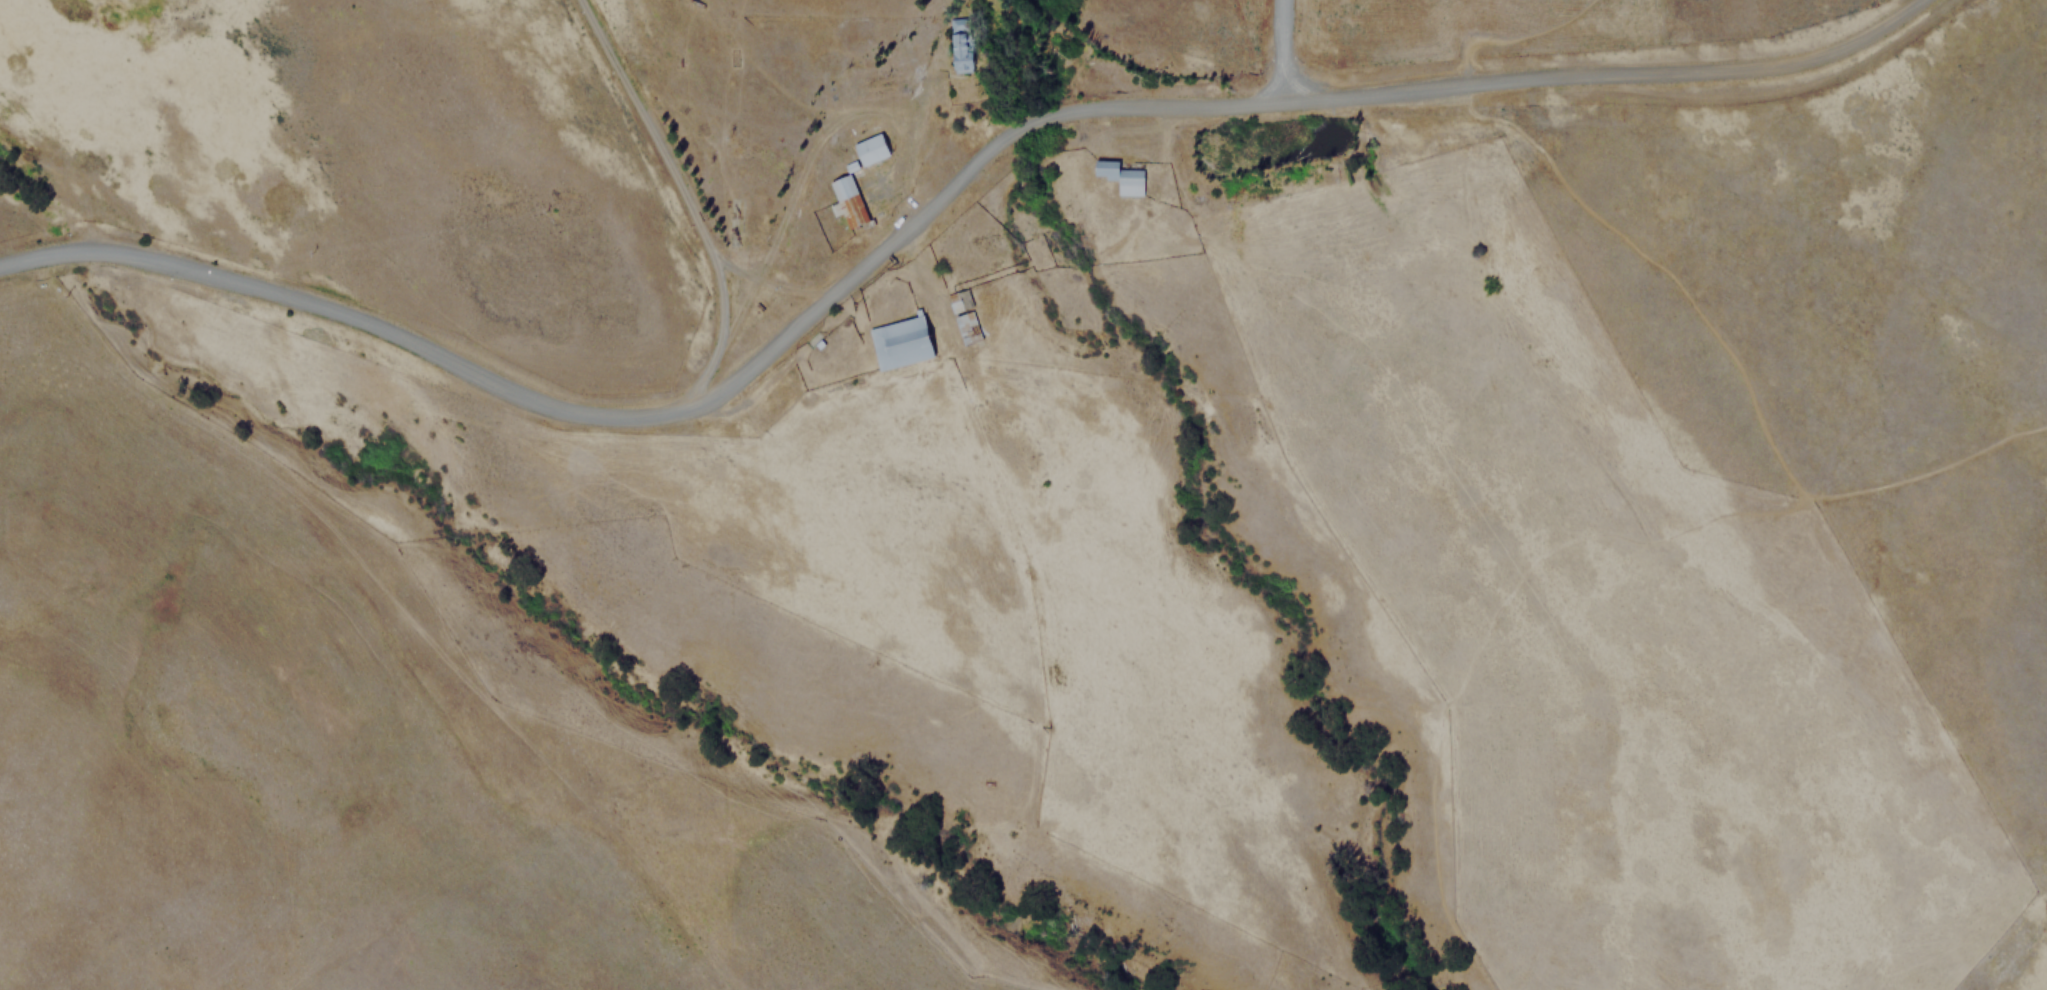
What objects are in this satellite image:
road: (1283, 47)
building: (961, 50)
building: (872, 148)
building: (1123, 174)
road: (689, 197)
building: (851, 199)
road: (927, 203)
road: (1595, 210)
road: (773, 283)
building: (957, 300)
building: (969, 327)
building: (903, 342)
road: (1926, 467)
road: (852, 631)
road: (1480, 634)

